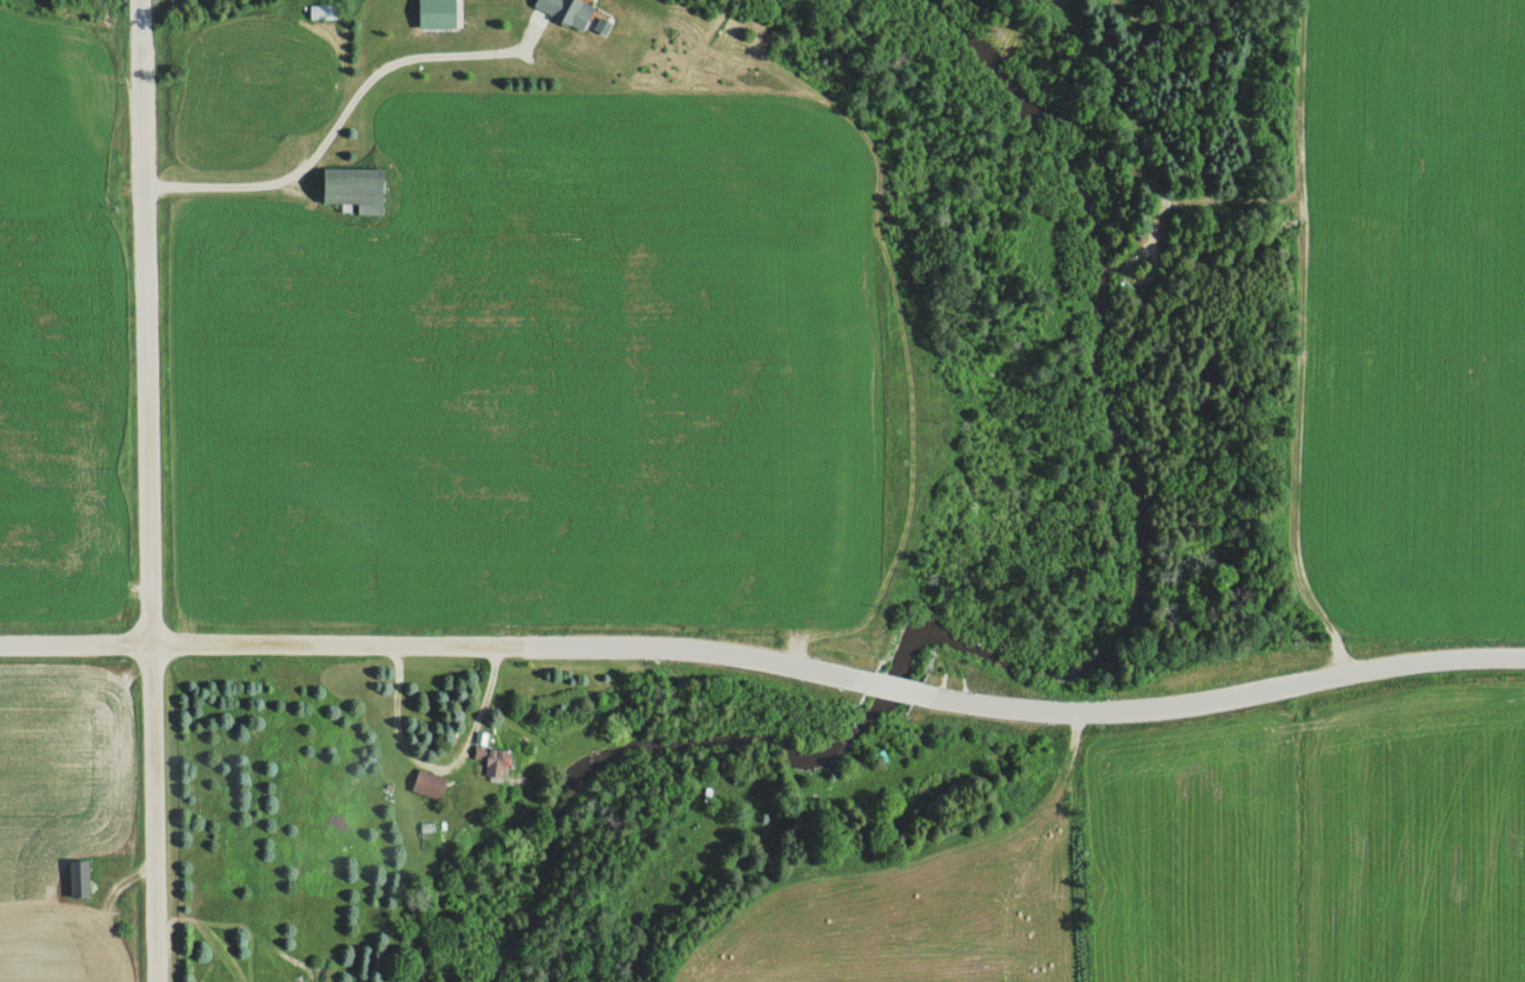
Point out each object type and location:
building: (565, 10)
building: (321, 11)
road: (343, 113)
building: (351, 189)
road: (151, 490)
road: (425, 644)
road: (872, 647)
road: (903, 651)
river: (1048, 671)
road: (1211, 671)
building: (490, 761)
building: (426, 784)
building: (76, 878)

